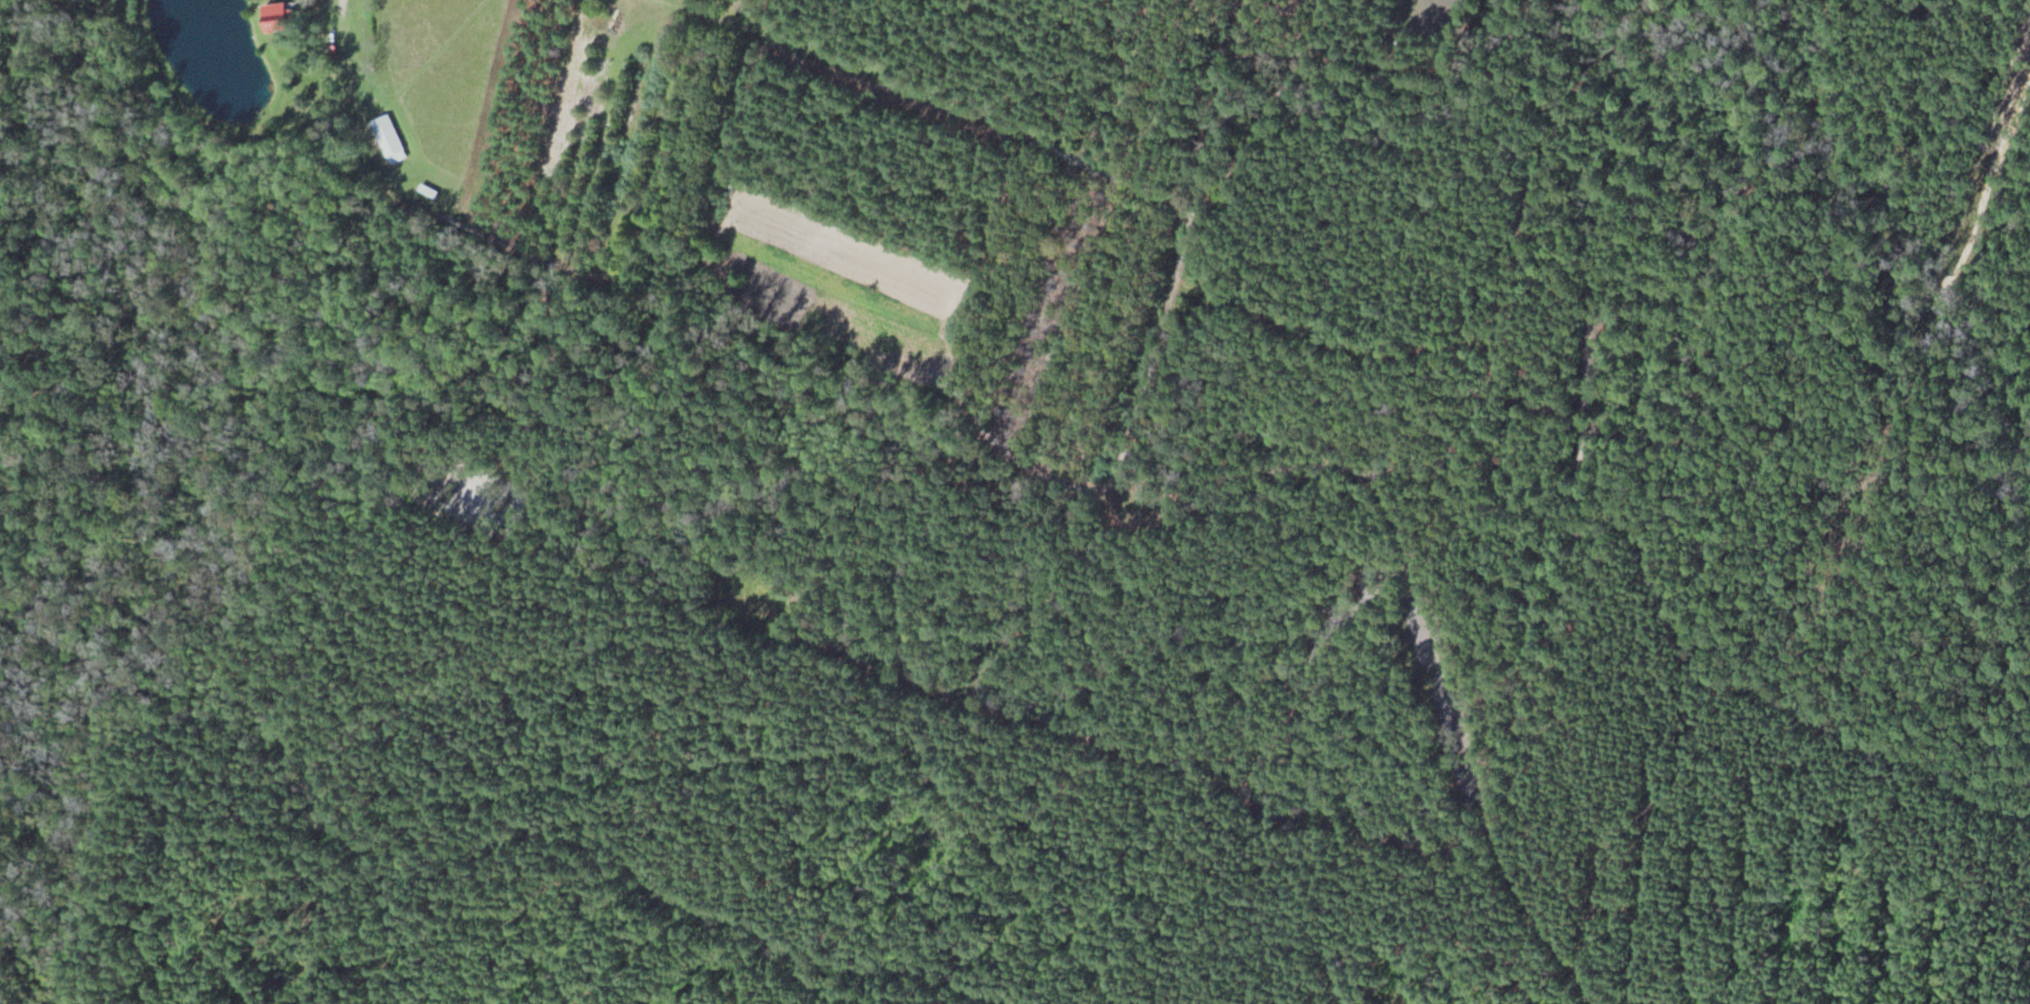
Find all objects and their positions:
building: (276, 16)
building: (389, 137)

